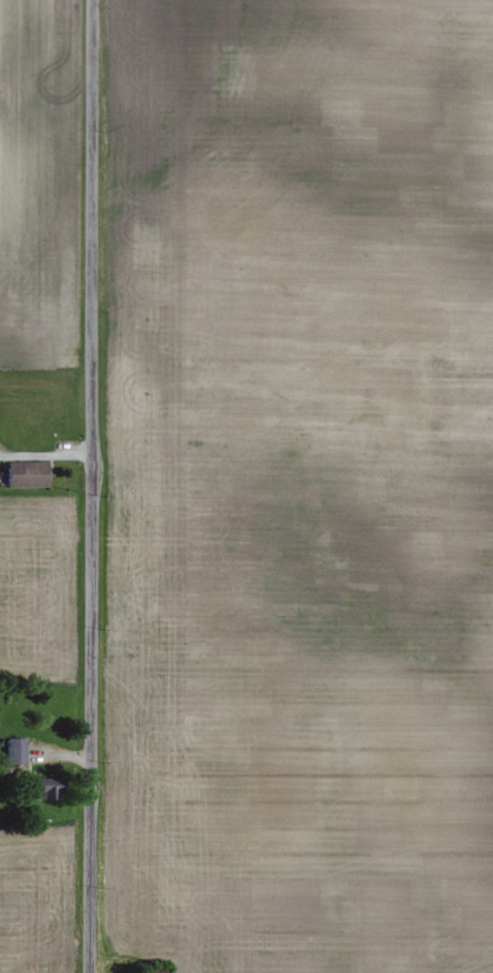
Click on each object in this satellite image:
road: (44, 455)
road: (88, 486)
building: (16, 751)
building: (52, 788)

